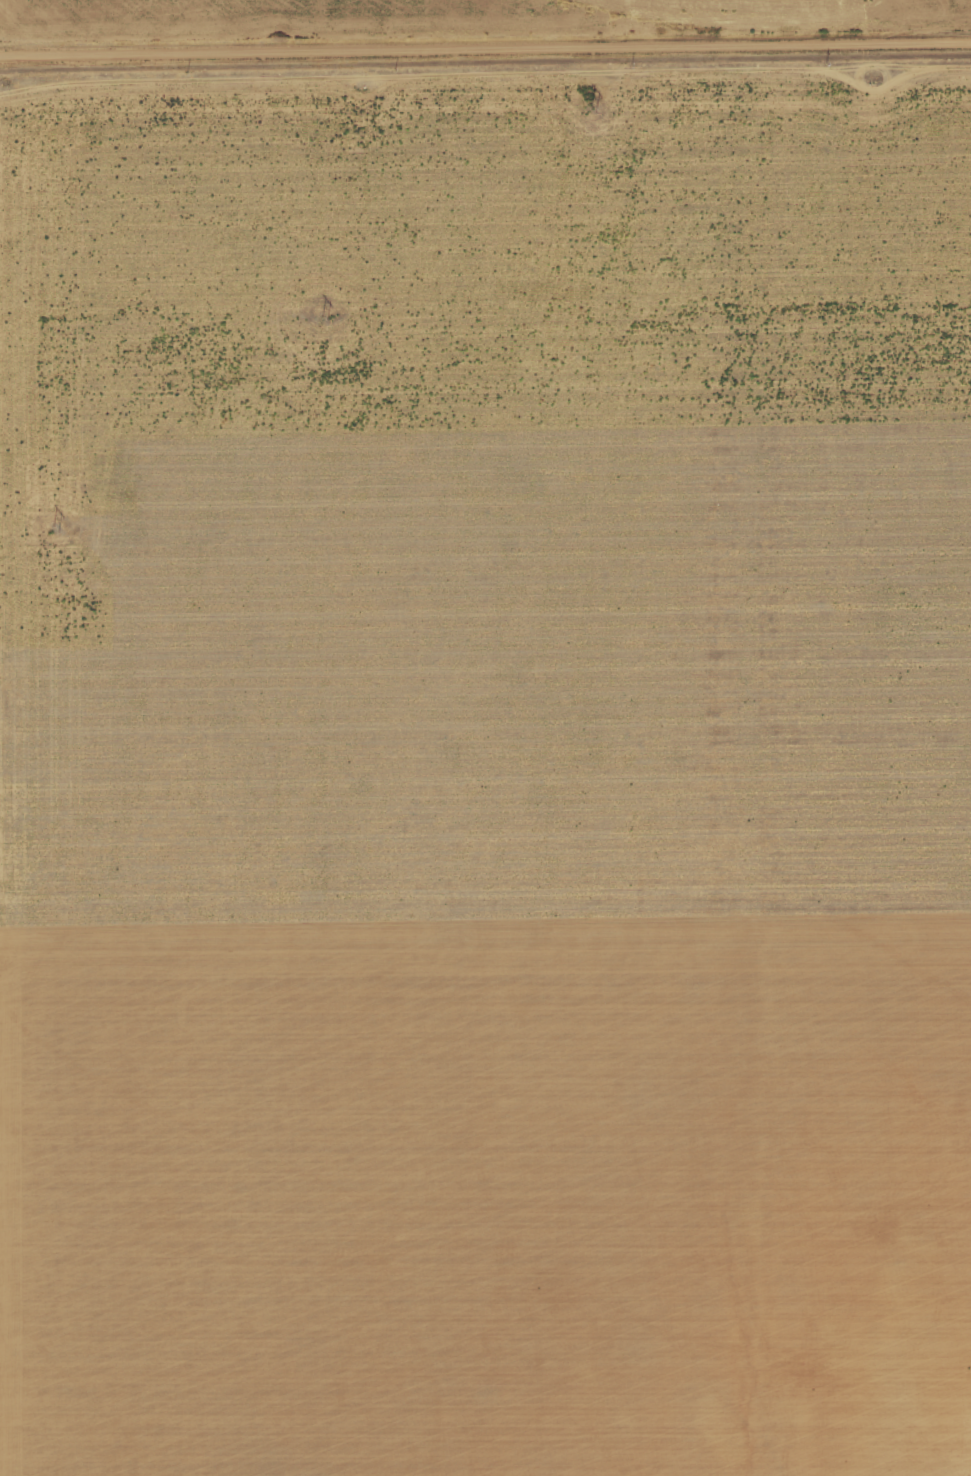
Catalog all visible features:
road: (485, 52)
power tower: (592, 108)
power tower: (323, 317)
power tower: (54, 527)

